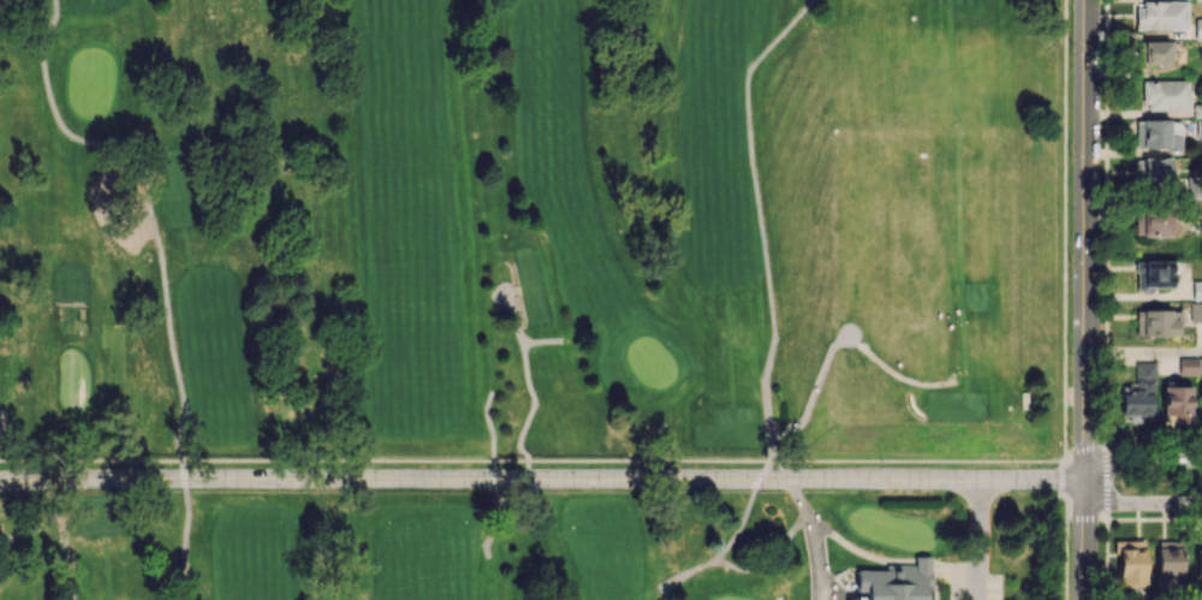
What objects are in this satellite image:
building: (1197, 0)
building: (1160, 14)
building: (1197, 28)
building: (1153, 53)
park: (90, 83)
building: (1165, 95)
building: (1197, 111)
building: (1198, 129)
building: (1152, 133)
building: (1174, 143)
building: (1153, 172)
road: (145, 192)
road: (757, 219)
building: (1153, 222)
park: (530, 227)
road: (1065, 230)
road: (1088, 239)
building: (1154, 274)
building: (1196, 290)
road: (512, 308)
building: (1196, 311)
building: (1158, 322)
road: (542, 341)
road: (1144, 354)
park: (650, 361)
building: (1190, 366)
road: (893, 372)
building: (1137, 394)
road: (811, 398)
building: (1024, 399)
building: (1201, 402)
road: (534, 404)
building: (1176, 405)
road: (1, 420)
road: (1106, 444)
road: (1081, 447)
road: (1142, 461)
road: (530, 462)
road: (1061, 463)
road: (180, 469)
road: (766, 470)
road: (781, 470)
road: (493, 476)
road: (543, 479)
road: (1061, 479)
road: (1107, 480)
road: (1141, 503)
road: (1082, 517)
road: (1105, 517)
road: (61, 527)
park: (891, 528)
road: (185, 534)
road: (834, 539)
road: (980, 539)
road: (1087, 539)
road: (1066, 543)
park: (531, 546)
road: (725, 549)
building: (1168, 558)
road: (819, 560)
road: (770, 562)
building: (1130, 563)
building: (1198, 563)
road: (964, 578)
parking lot: (971, 580)
building: (895, 582)
park: (732, 598)

